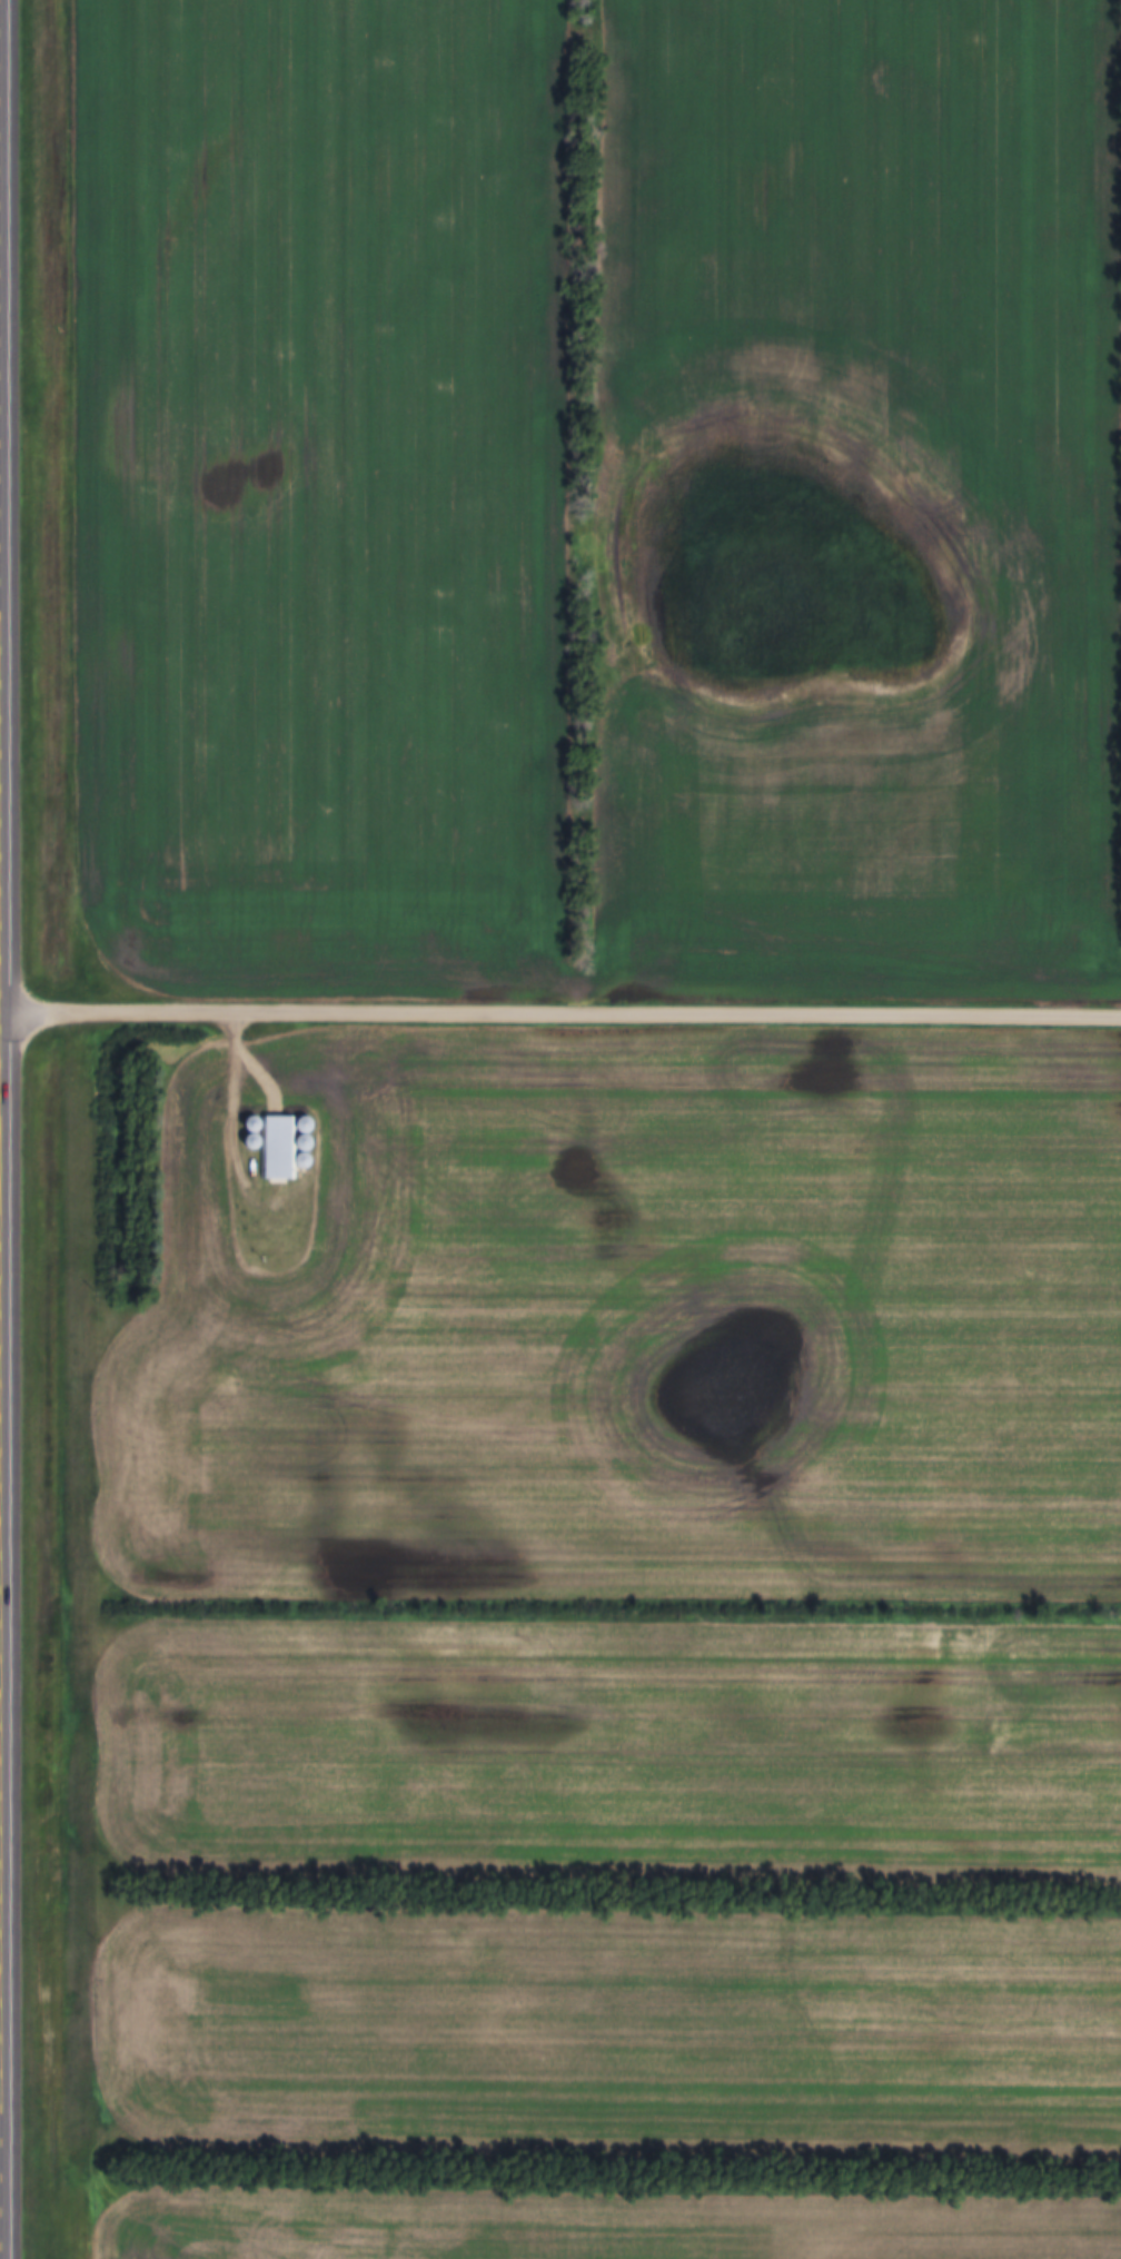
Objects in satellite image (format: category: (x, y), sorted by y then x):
road: (563, 1005)
road: (2, 1007)
road: (239, 1120)
building: (246, 1122)
road: (3, 1129)
building: (280, 1147)

